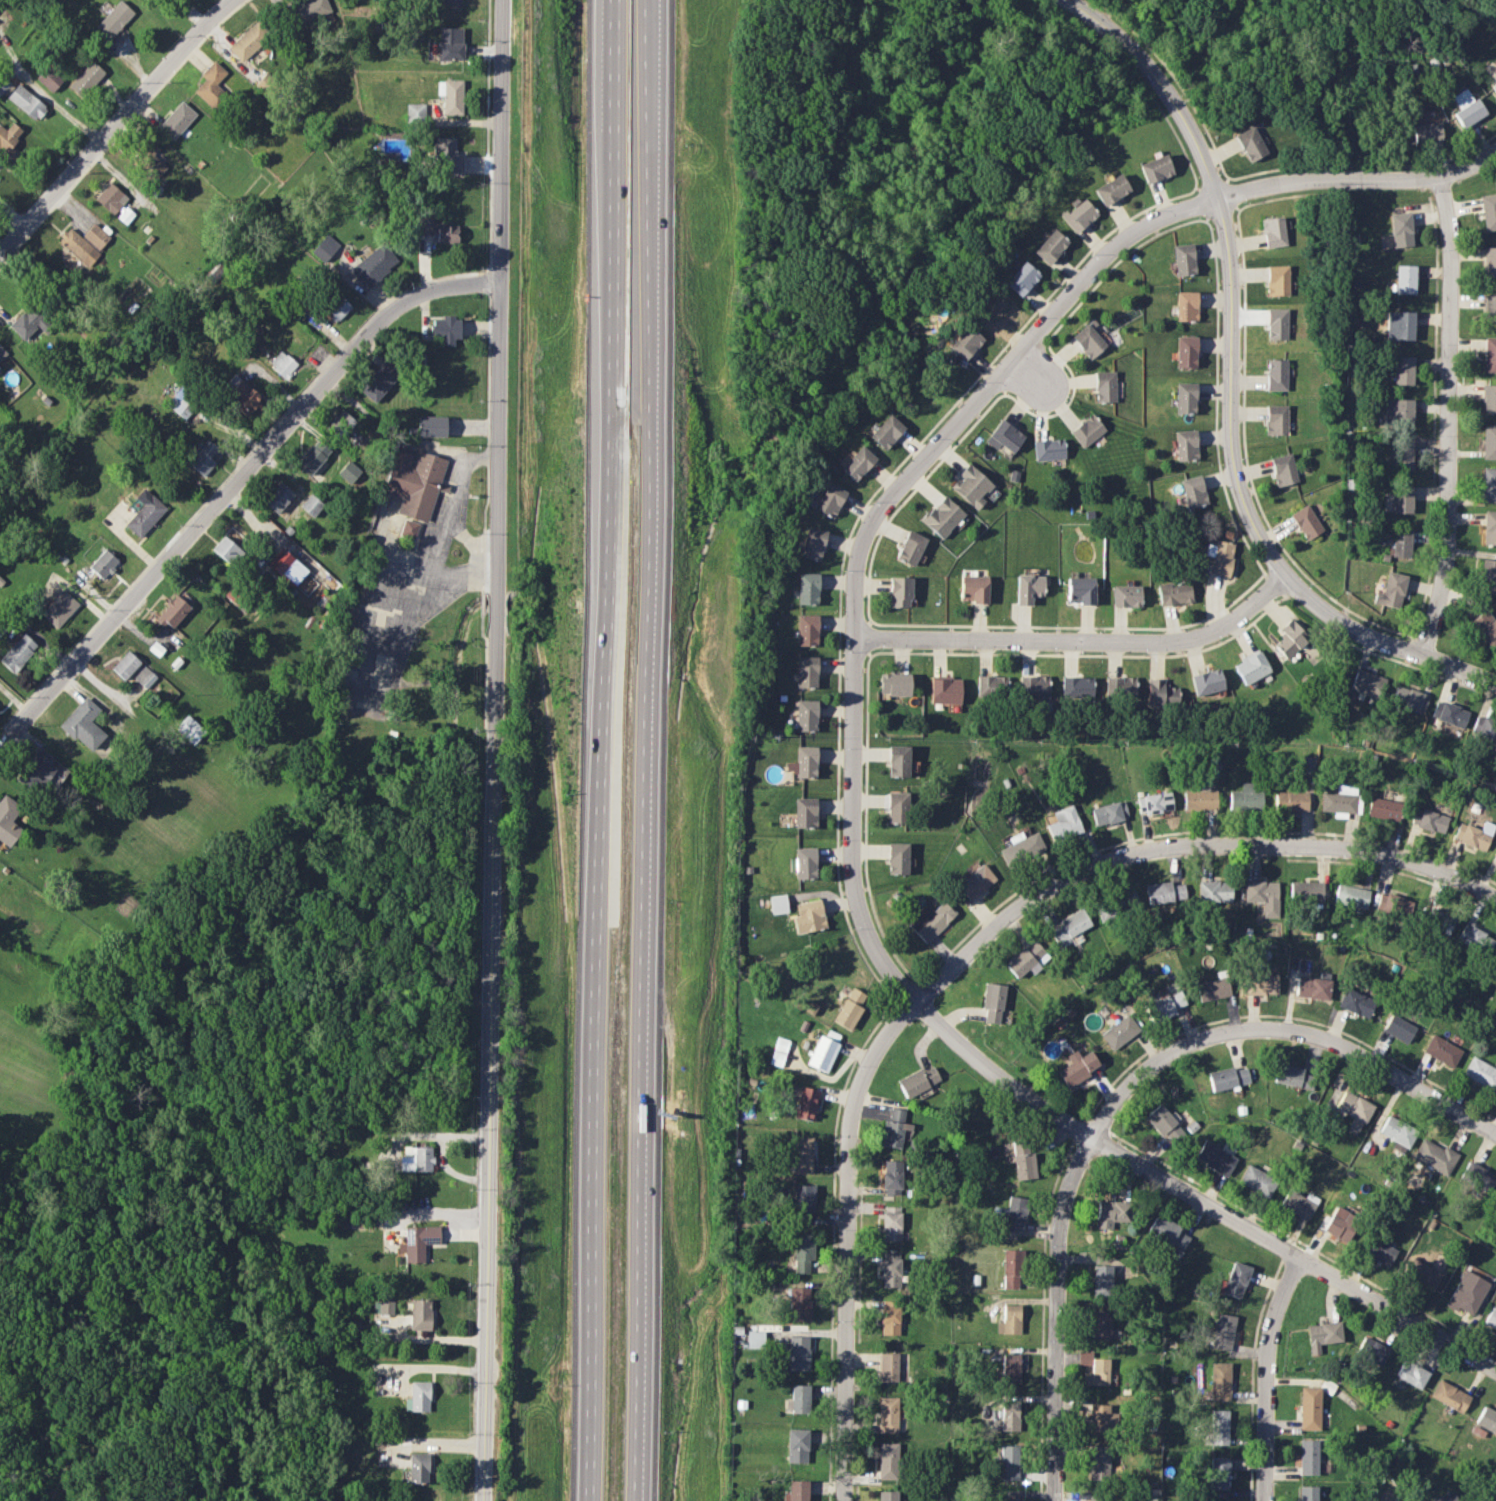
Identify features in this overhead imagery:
building: (453, 2)
road: (1075, 7)
building: (310, 9)
building: (114, 19)
building: (248, 42)
building: (450, 43)
building: (49, 78)
building: (86, 79)
building: (1493, 80)
building: (210, 82)
building: (3, 84)
road: (42, 93)
building: (451, 96)
building: (26, 102)
building: (1467, 108)
building: (415, 111)
building: (1426, 115)
building: (177, 120)
road: (117, 127)
building: (1426, 132)
building: (8, 136)
building: (1250, 144)
building: (446, 156)
building: (152, 159)
building: (1155, 168)
road: (1358, 180)
building: (1110, 189)
building: (110, 198)
building: (1488, 211)
building: (124, 214)
building: (1077, 215)
building: (1400, 229)
building: (438, 231)
building: (1273, 232)
building: (84, 242)
building: (1050, 246)
building: (324, 247)
building: (1183, 258)
building: (1490, 261)
building: (373, 265)
building: (1022, 278)
road: (1226, 279)
building: (1405, 279)
building: (1277, 280)
building: (1185, 306)
building: (338, 308)
building: (1490, 308)
building: (994, 310)
building: (28, 322)
building: (1277, 324)
building: (1400, 325)
building: (446, 329)
building: (1089, 340)
building: (965, 342)
road: (496, 344)
building: (2, 352)
building: (1185, 352)
building: (1489, 354)
building: (282, 364)
building: (1404, 370)
road: (1028, 372)
building: (1276, 374)
building: (379, 380)
building: (1106, 386)
building: (242, 396)
building: (1184, 398)
building: (1489, 399)
building: (1399, 413)
road: (1449, 416)
building: (1276, 420)
building: (344, 421)
building: (431, 426)
building: (1088, 430)
building: (886, 431)
building: (1003, 438)
building: (1489, 442)
building: (1185, 445)
building: (1048, 449)
building: (1404, 456)
building: (203, 457)
building: (312, 457)
building: (858, 463)
building: (1283, 469)
building: (348, 472)
building: (1013, 475)
building: (415, 482)
building: (1489, 484)
road: (233, 486)
building: (970, 486)
building: (1192, 491)
building: (277, 497)
building: (830, 499)
building: (1402, 499)
road: (453, 503)
building: (311, 505)
building: (144, 513)
building: (942, 517)
building: (1305, 522)
building: (1489, 527)
building: (409, 528)
road: (865, 534)
building: (813, 543)
building: (1402, 543)
building: (911, 547)
building: (225, 548)
building: (1219, 557)
building: (103, 564)
building: (289, 568)
road: (440, 570)
building: (1488, 577)
building: (1028, 587)
building: (808, 588)
building: (973, 588)
building: (1392, 589)
building: (1080, 590)
building: (901, 591)
building: (1173, 592)
building: (1125, 595)
building: (59, 608)
building: (173, 611)
building: (1485, 628)
building: (808, 629)
building: (1289, 638)
road: (1384, 639)
road: (1079, 641)
building: (18, 652)
building: (125, 665)
building: (1251, 668)
building: (807, 671)
building: (145, 677)
building: (1206, 682)
building: (1367, 683)
building: (894, 684)
building: (991, 686)
building: (1033, 686)
building: (1119, 686)
building: (1076, 687)
building: (944, 690)
building: (1160, 693)
building: (1410, 699)
building: (1449, 713)
building: (807, 715)
building: (83, 724)
building: (1484, 727)
building: (190, 729)
road: (602, 750)
road: (643, 750)
building: (897, 761)
building: (804, 762)
building: (38, 769)
building: (1245, 797)
building: (1200, 800)
building: (1339, 800)
building: (1290, 801)
building: (1154, 803)
building: (896, 807)
building: (1384, 809)
building: (805, 812)
building: (1109, 812)
building: (8, 820)
building: (1429, 820)
building: (1064, 823)
building: (1474, 834)
building: (1020, 847)
road: (1185, 852)
building: (1495, 855)
building: (897, 858)
building: (803, 863)
building: (975, 881)
building: (1214, 891)
building: (1306, 891)
building: (1164, 892)
building: (1262, 896)
building: (1351, 896)
building: (778, 903)
building: (1394, 905)
building: (808, 916)
building: (930, 920)
building: (1438, 921)
building: (1069, 927)
building: (1475, 940)
building: (1026, 959)
building: (1495, 963)
building: (1261, 983)
building: (1312, 987)
building: (1212, 989)
building: (992, 1002)
building: (1355, 1002)
building: (1167, 1005)
building: (850, 1008)
building: (1398, 1028)
building: (1119, 1032)
road: (1288, 1033)
building: (824, 1050)
building: (1441, 1050)
building: (779, 1051)
building: (1077, 1067)
building: (1480, 1073)
building: (1293, 1076)
building: (1227, 1078)
building: (918, 1081)
road: (489, 1095)
building: (806, 1103)
building: (1353, 1109)
building: (1163, 1123)
building: (895, 1129)
building: (1397, 1131)
building: (801, 1154)
building: (1434, 1156)
building: (420, 1157)
building: (1215, 1158)
building: (1023, 1159)
building: (892, 1177)
building: (1477, 1178)
building: (1257, 1181)
road: (1198, 1197)
building: (803, 1203)
building: (1298, 1203)
building: (1495, 1207)
building: (1111, 1213)
building: (1014, 1215)
building: (891, 1223)
building: (1340, 1224)
building: (1168, 1234)
building: (418, 1241)
road: (845, 1243)
building: (802, 1252)
building: (1379, 1252)
building: (1010, 1268)
building: (890, 1270)
building: (1421, 1274)
building: (1235, 1280)
building: (1101, 1281)
building: (1467, 1293)
building: (798, 1303)
building: (383, 1307)
building: (419, 1313)
road: (1057, 1314)
building: (890, 1317)
building: (1491, 1319)
building: (1009, 1320)
building: (1100, 1324)
building: (1223, 1332)
building: (1322, 1335)
building: (755, 1339)
building: (1372, 1350)
building: (798, 1353)
building: (890, 1368)
building: (1010, 1368)
building: (1094, 1369)
building: (1411, 1374)
road: (1268, 1376)
building: (1220, 1381)
building: (1450, 1396)
building: (418, 1397)
building: (798, 1399)
building: (1309, 1408)
building: (889, 1414)
building: (1007, 1418)
building: (1101, 1418)
building: (1487, 1419)
building: (1219, 1427)
building: (797, 1445)
building: (1307, 1457)
building: (888, 1460)
building: (1009, 1462)
building: (1098, 1463)
building: (418, 1467)
building: (1218, 1473)
building: (796, 1491)
building: (1307, 1493)
building: (887, 1495)
building: (1097, 1497)
building: (1445, 1498)
building: (1008, 1499)
building: (1479, 1500)

